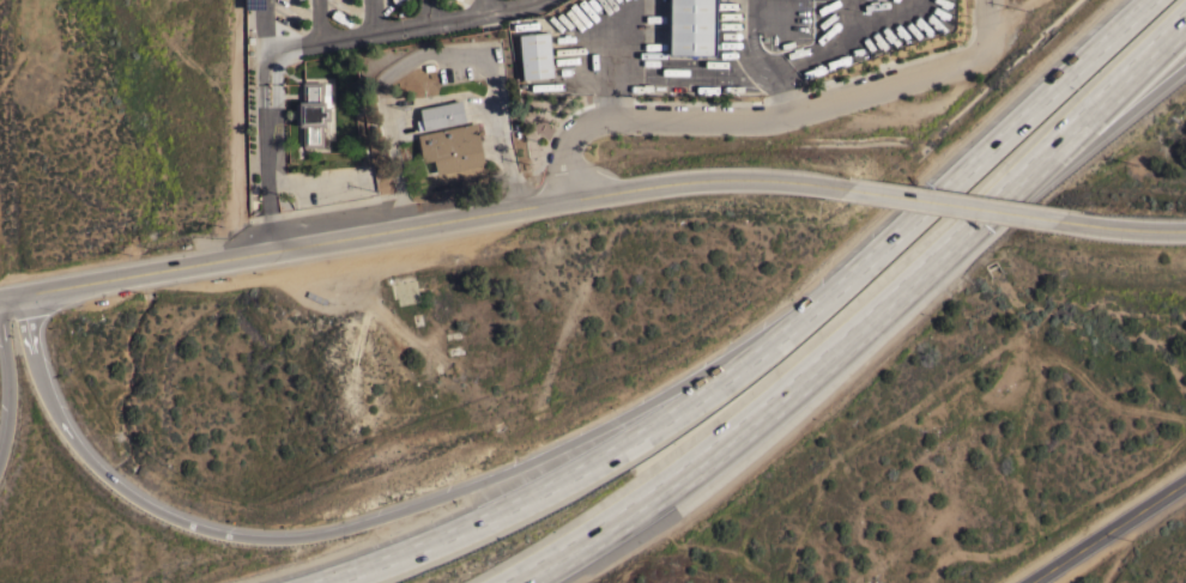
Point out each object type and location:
road: (1023, 2)
road: (490, 10)
road: (437, 13)
road: (380, 18)
road: (986, 20)
road: (323, 22)
road: (1004, 23)
building: (692, 28)
road: (405, 32)
building: (537, 54)
road: (750, 108)
building: (313, 111)
building: (441, 114)
road: (1094, 114)
road: (265, 119)
road: (237, 123)
road: (1094, 130)
building: (452, 147)
road: (972, 162)
road: (954, 192)
road: (423, 212)
road: (1121, 213)
road: (11, 384)
road: (770, 406)
road: (574, 475)
road: (357, 528)
road: (1109, 533)

